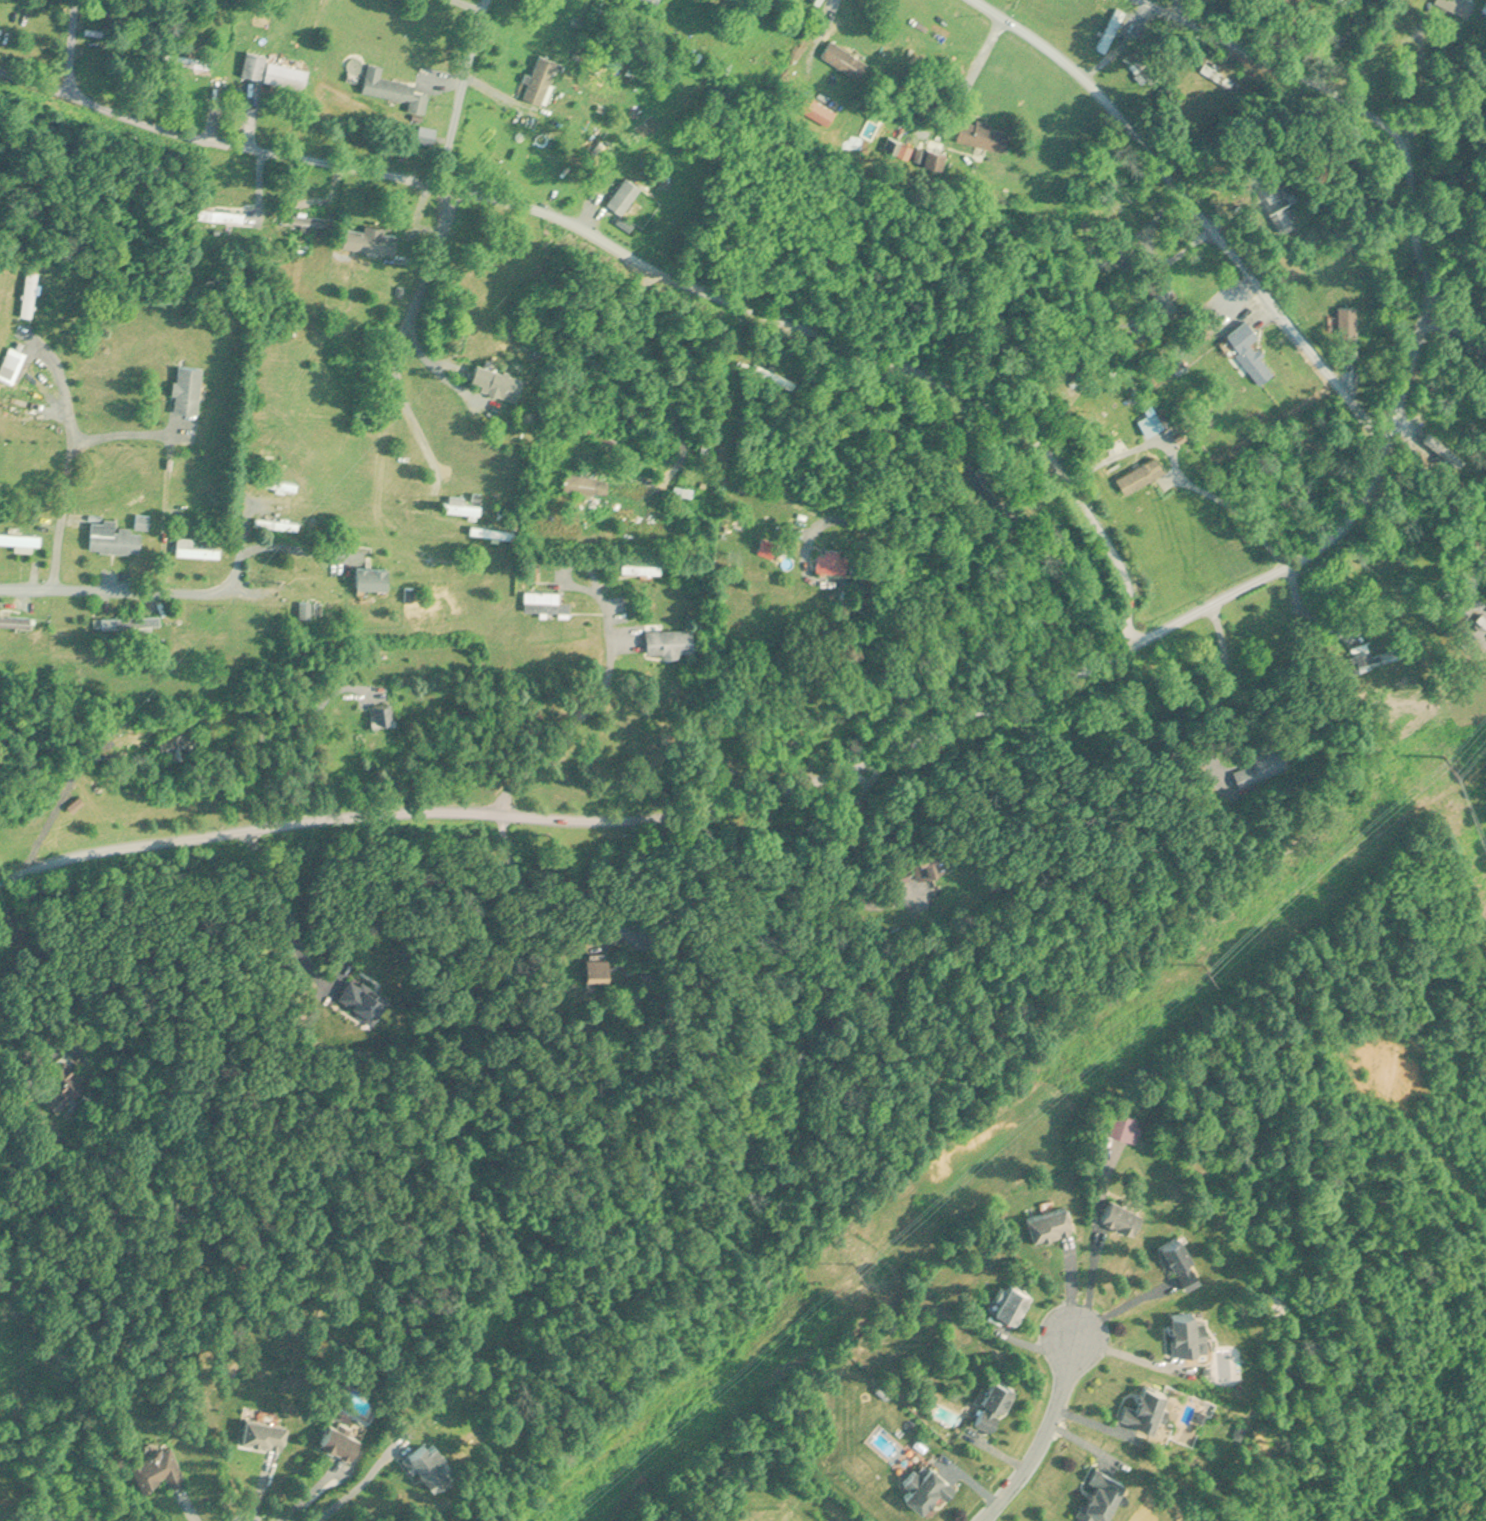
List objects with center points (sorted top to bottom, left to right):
building: (1350, 1)
building: (655, 2)
road: (469, 5)
building: (1463, 5)
building: (1485, 7)
road: (823, 19)
building: (1123, 32)
building: (841, 57)
building: (198, 62)
building: (276, 70)
building: (1223, 74)
building: (543, 79)
road: (36, 81)
building: (395, 88)
road: (462, 93)
road: (1379, 119)
building: (978, 132)
building: (906, 149)
building: (626, 195)
road: (1195, 206)
building: (223, 215)
building: (1286, 218)
building: (303, 227)
building: (374, 239)
road: (633, 252)
building: (32, 292)
building: (1351, 316)
road: (396, 349)
building: (1252, 350)
building: (13, 364)
road: (435, 366)
building: (775, 376)
building: (500, 380)
building: (190, 388)
road: (415, 417)
building: (1154, 422)
road: (126, 429)
building: (599, 430)
road: (890, 437)
building: (1445, 448)
road: (73, 465)
building: (1143, 474)
building: (277, 483)
building: (590, 483)
building: (686, 494)
building: (463, 505)
road: (1240, 507)
road: (242, 528)
building: (116, 539)
building: (20, 541)
building: (196, 548)
building: (836, 561)
building: (644, 568)
building: (461, 570)
building: (375, 575)
road: (117, 587)
building: (547, 601)
building: (307, 609)
road: (1304, 615)
building: (16, 619)
building: (131, 620)
building: (674, 641)
building: (1376, 657)
road: (1217, 694)
road: (587, 703)
building: (385, 711)
road: (306, 733)
building: (127, 742)
building: (172, 743)
power tower: (1445, 758)
building: (1263, 765)
road: (815, 778)
road: (537, 898)
road: (280, 910)
power tower: (1202, 964)
road: (21, 1012)
road: (27, 1072)
power tower: (853, 1264)
road: (1089, 1276)
road: (1068, 1283)
road: (1120, 1304)
road: (1132, 1357)
road: (1041, 1432)
road: (360, 1481)
road: (310, 1496)

